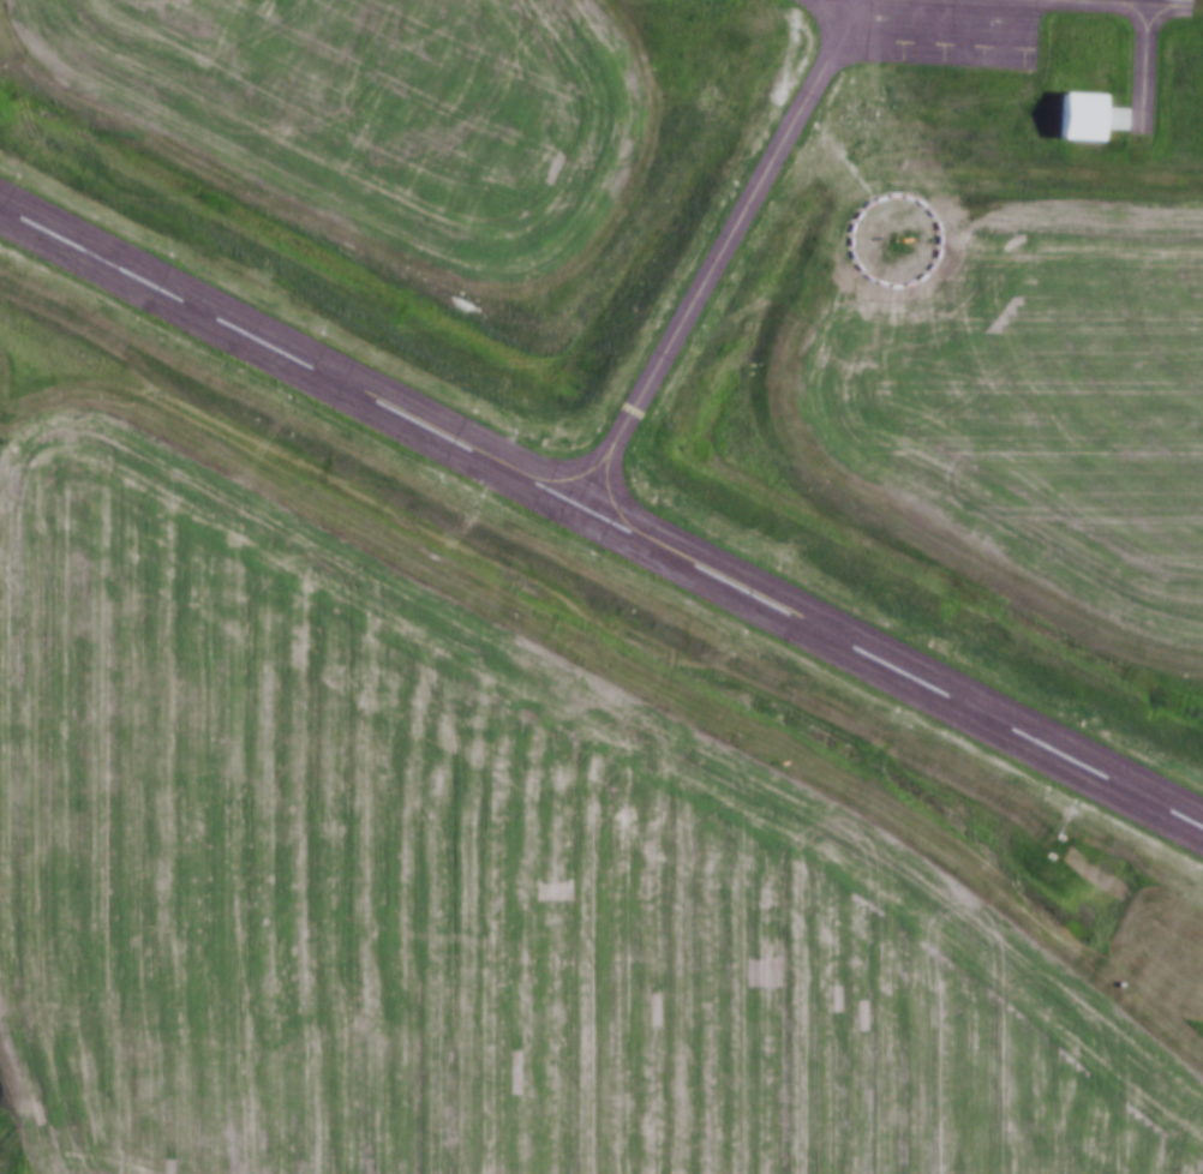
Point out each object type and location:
airport taxiway: (1017, 0)
airport apron: (929, 35)
crop: (379, 108)
building: (1072, 113)
airport taxiway: (716, 262)
crop: (1028, 390)
airport taxiway: (575, 474)
airport runway: (600, 517)

